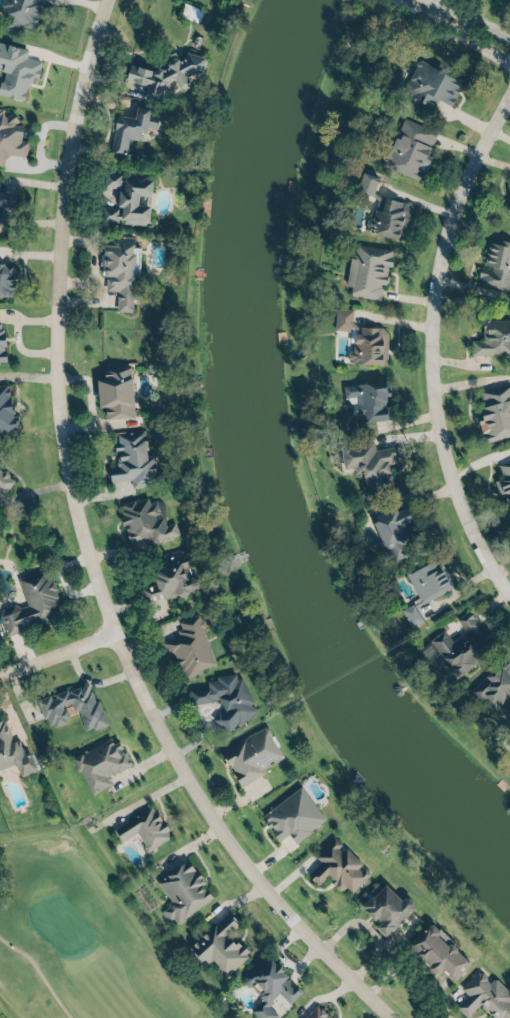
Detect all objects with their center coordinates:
building: (500, 0)
building: (503, 0)
building: (188, 12)
building: (20, 13)
road: (472, 20)
building: (15, 70)
building: (165, 71)
building: (429, 84)
building: (128, 129)
building: (10, 135)
building: (408, 150)
building: (5, 196)
building: (126, 197)
building: (508, 208)
building: (383, 211)
building: (496, 263)
building: (118, 270)
building: (366, 270)
building: (5, 278)
road: (432, 325)
building: (362, 336)
building: (492, 337)
building: (2, 343)
building: (116, 392)
building: (369, 399)
building: (4, 406)
building: (495, 410)
building: (133, 458)
building: (367, 462)
building: (3, 477)
building: (504, 482)
building: (144, 521)
building: (397, 527)
road: (96, 553)
building: (169, 578)
building: (424, 585)
building: (31, 602)
building: (460, 642)
building: (190, 647)
road: (57, 653)
building: (497, 686)
building: (226, 699)
building: (76, 703)
building: (13, 750)
building: (250, 753)
building: (99, 763)
building: (297, 820)
building: (144, 828)
building: (344, 870)
building: (181, 890)
building: (384, 906)
building: (224, 947)
building: (436, 951)
road: (39, 974)
building: (270, 983)
building: (485, 996)
building: (316, 1013)

